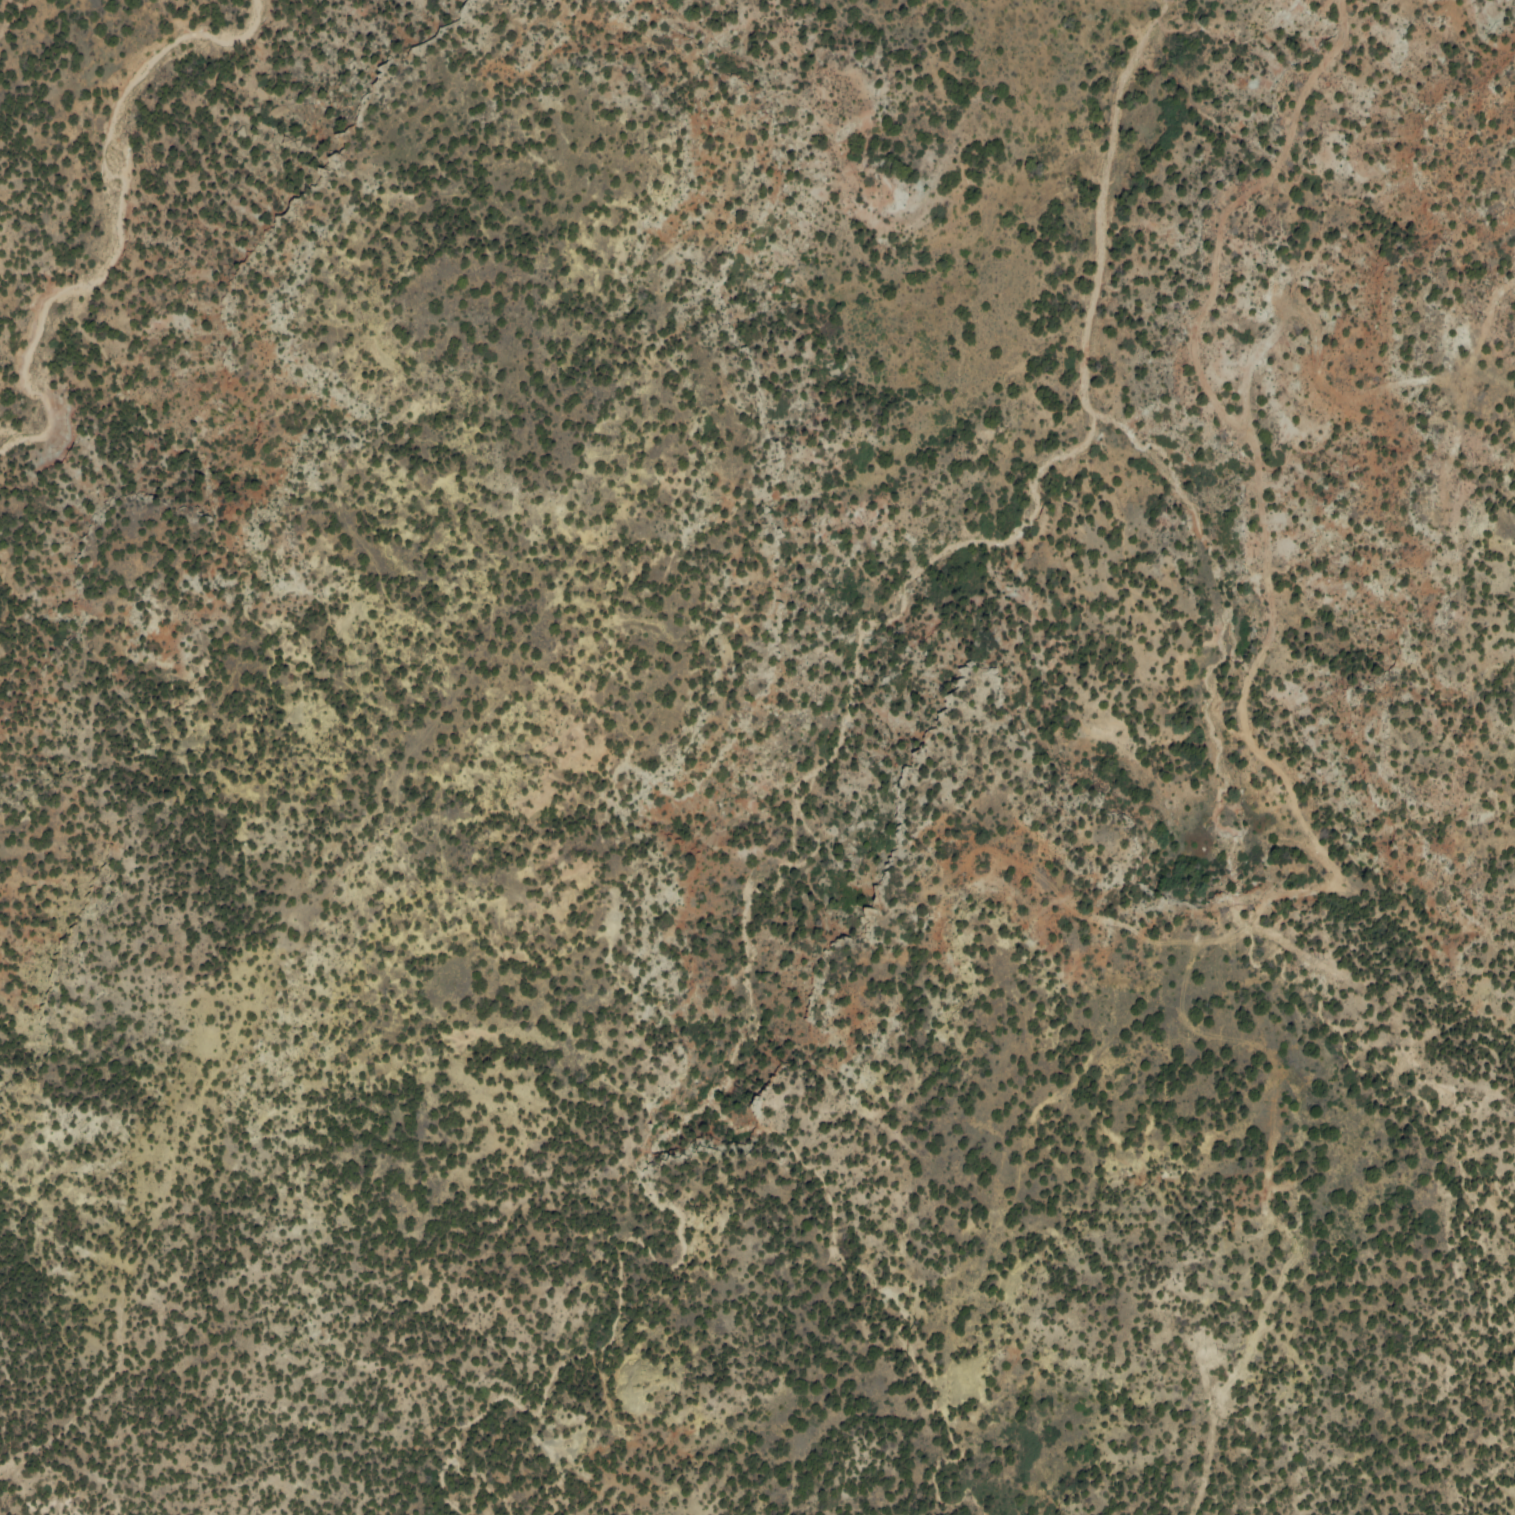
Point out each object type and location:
power tower: (1477, 319)
road: (1245, 436)
power tower: (1431, 506)
power tower: (1320, 957)
power tower: (1218, 1351)

